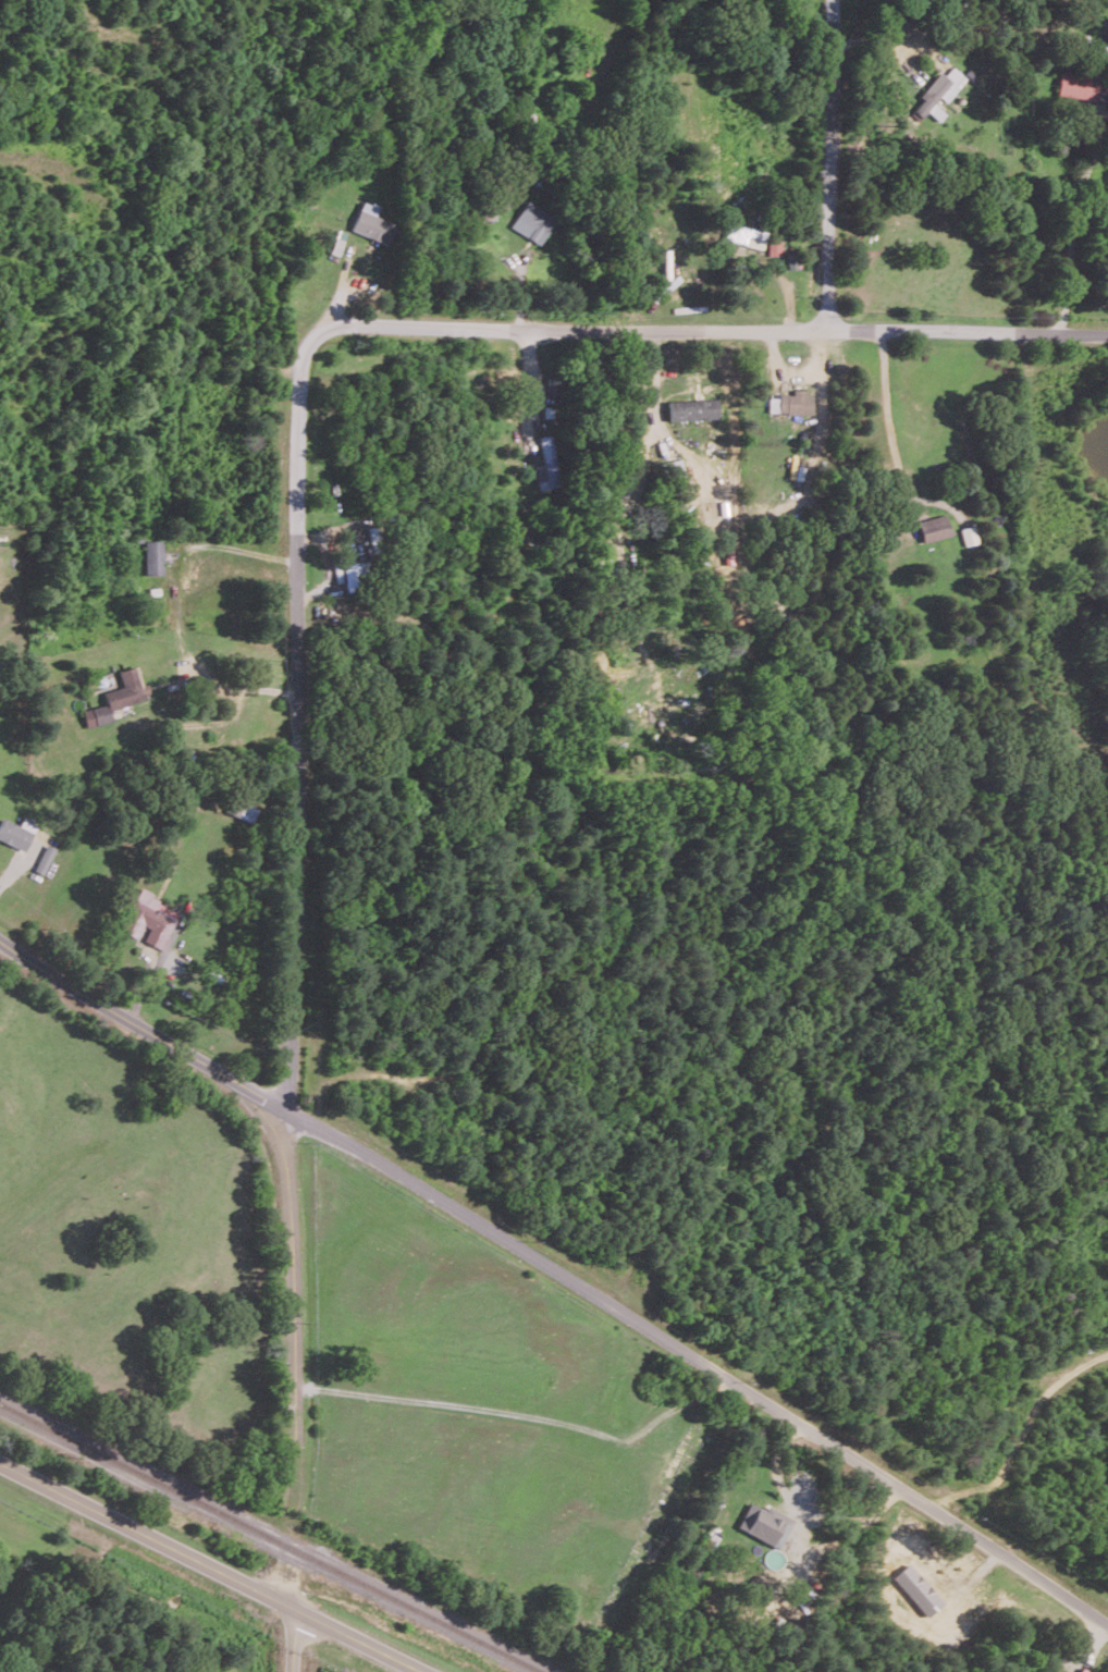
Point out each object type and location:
road: (882, 45)
building: (1079, 83)
building: (936, 93)
road: (828, 165)
building: (371, 222)
building: (532, 222)
road: (1073, 222)
building: (744, 235)
building: (781, 257)
road: (710, 329)
road: (653, 381)
building: (795, 401)
building: (693, 408)
road: (890, 426)
building: (547, 464)
building: (539, 470)
building: (933, 527)
building: (968, 534)
building: (153, 556)
building: (354, 575)
road: (175, 606)
building: (116, 697)
building: (247, 812)
building: (15, 832)
building: (44, 858)
road: (294, 889)
building: (149, 919)
road: (145, 1025)
road: (703, 1360)
building: (764, 1523)
road: (147, 1533)
railway: (274, 1535)
road: (291, 1638)
road: (353, 1639)

